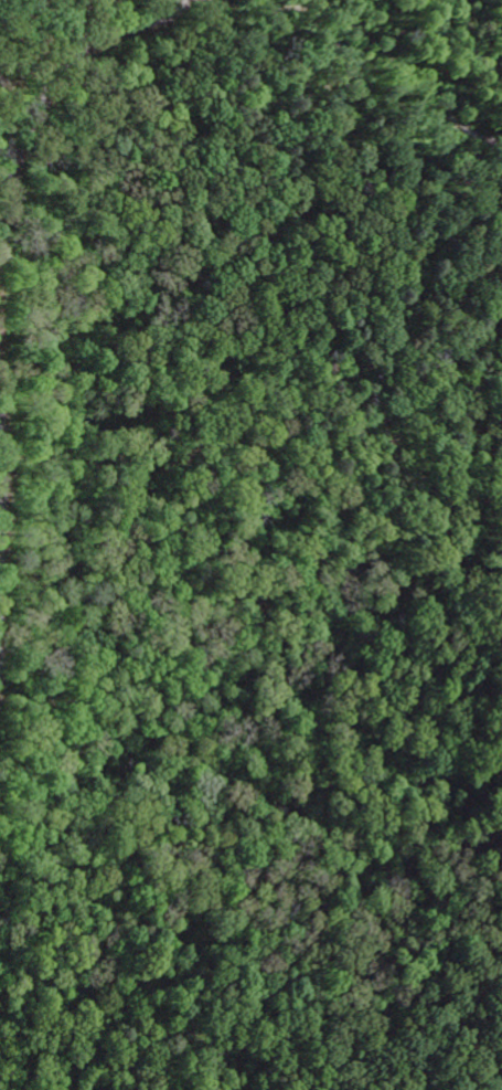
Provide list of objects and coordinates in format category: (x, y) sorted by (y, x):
road: (53, 93)
road: (7, 507)

